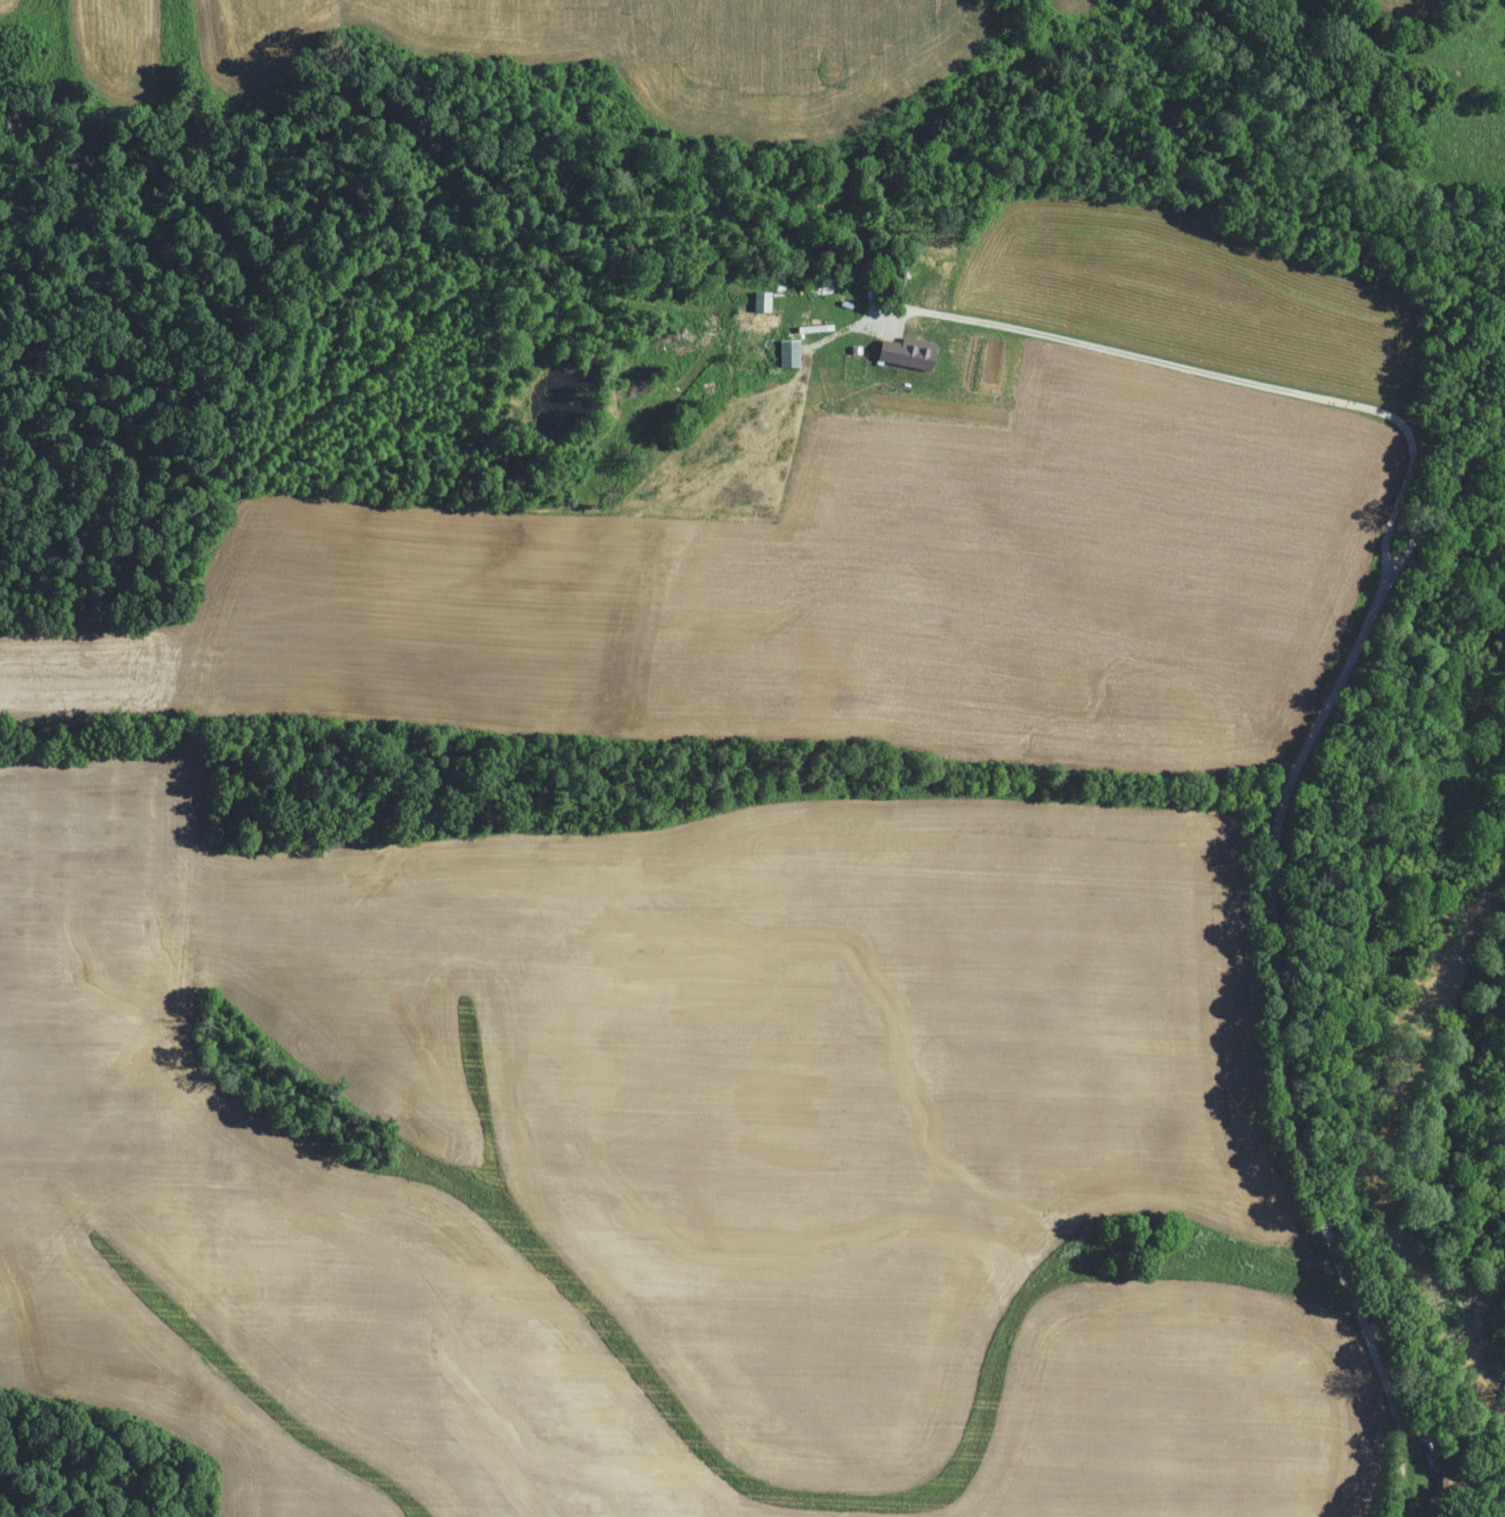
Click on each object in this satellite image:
building: (786, 353)
building: (903, 353)
road: (1220, 381)
road: (1269, 915)
river: (1493, 1376)

